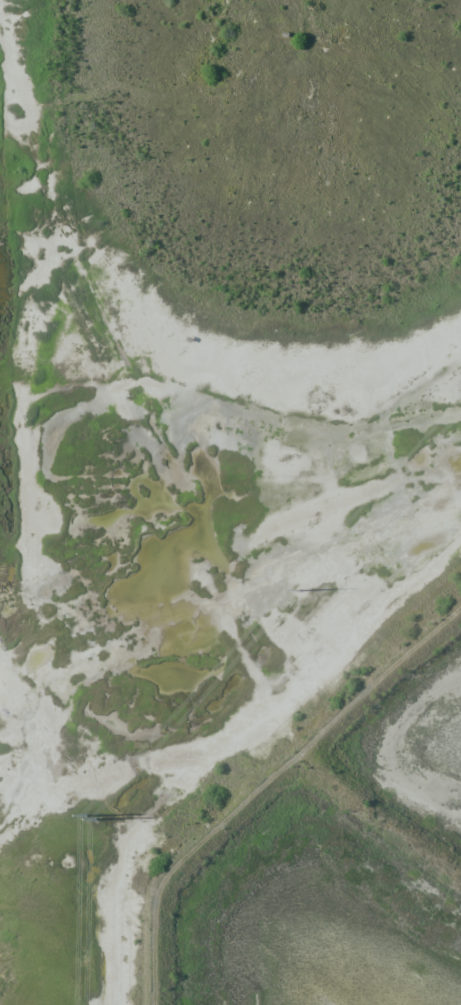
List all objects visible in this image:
power tower: (299, 591)
power tower: (87, 818)

